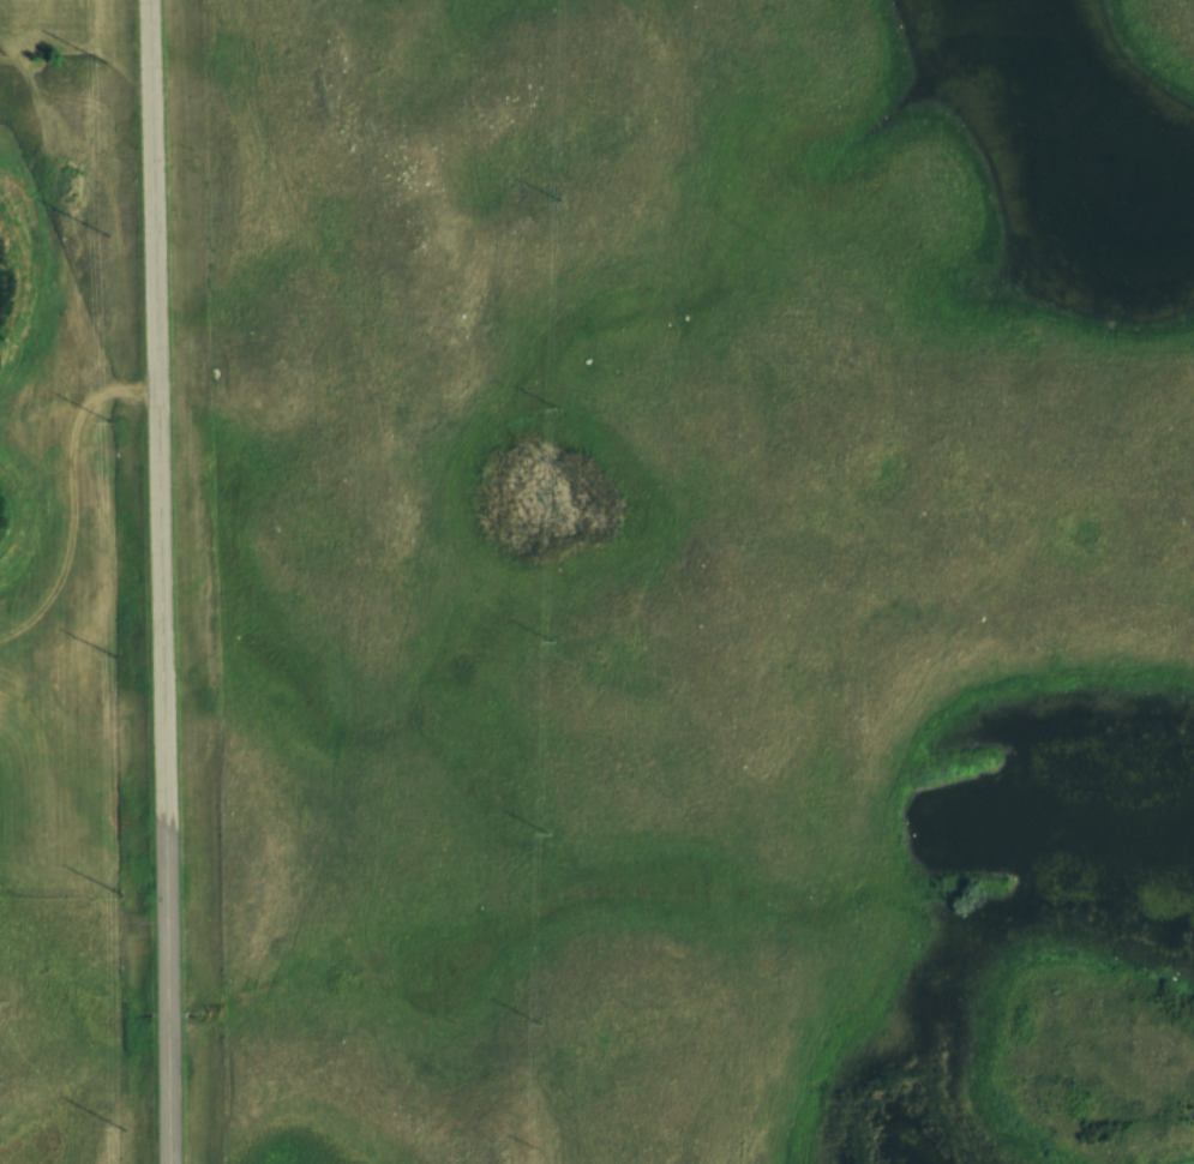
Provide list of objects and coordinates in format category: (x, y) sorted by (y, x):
road: (158, 581)
road: (86, 677)

